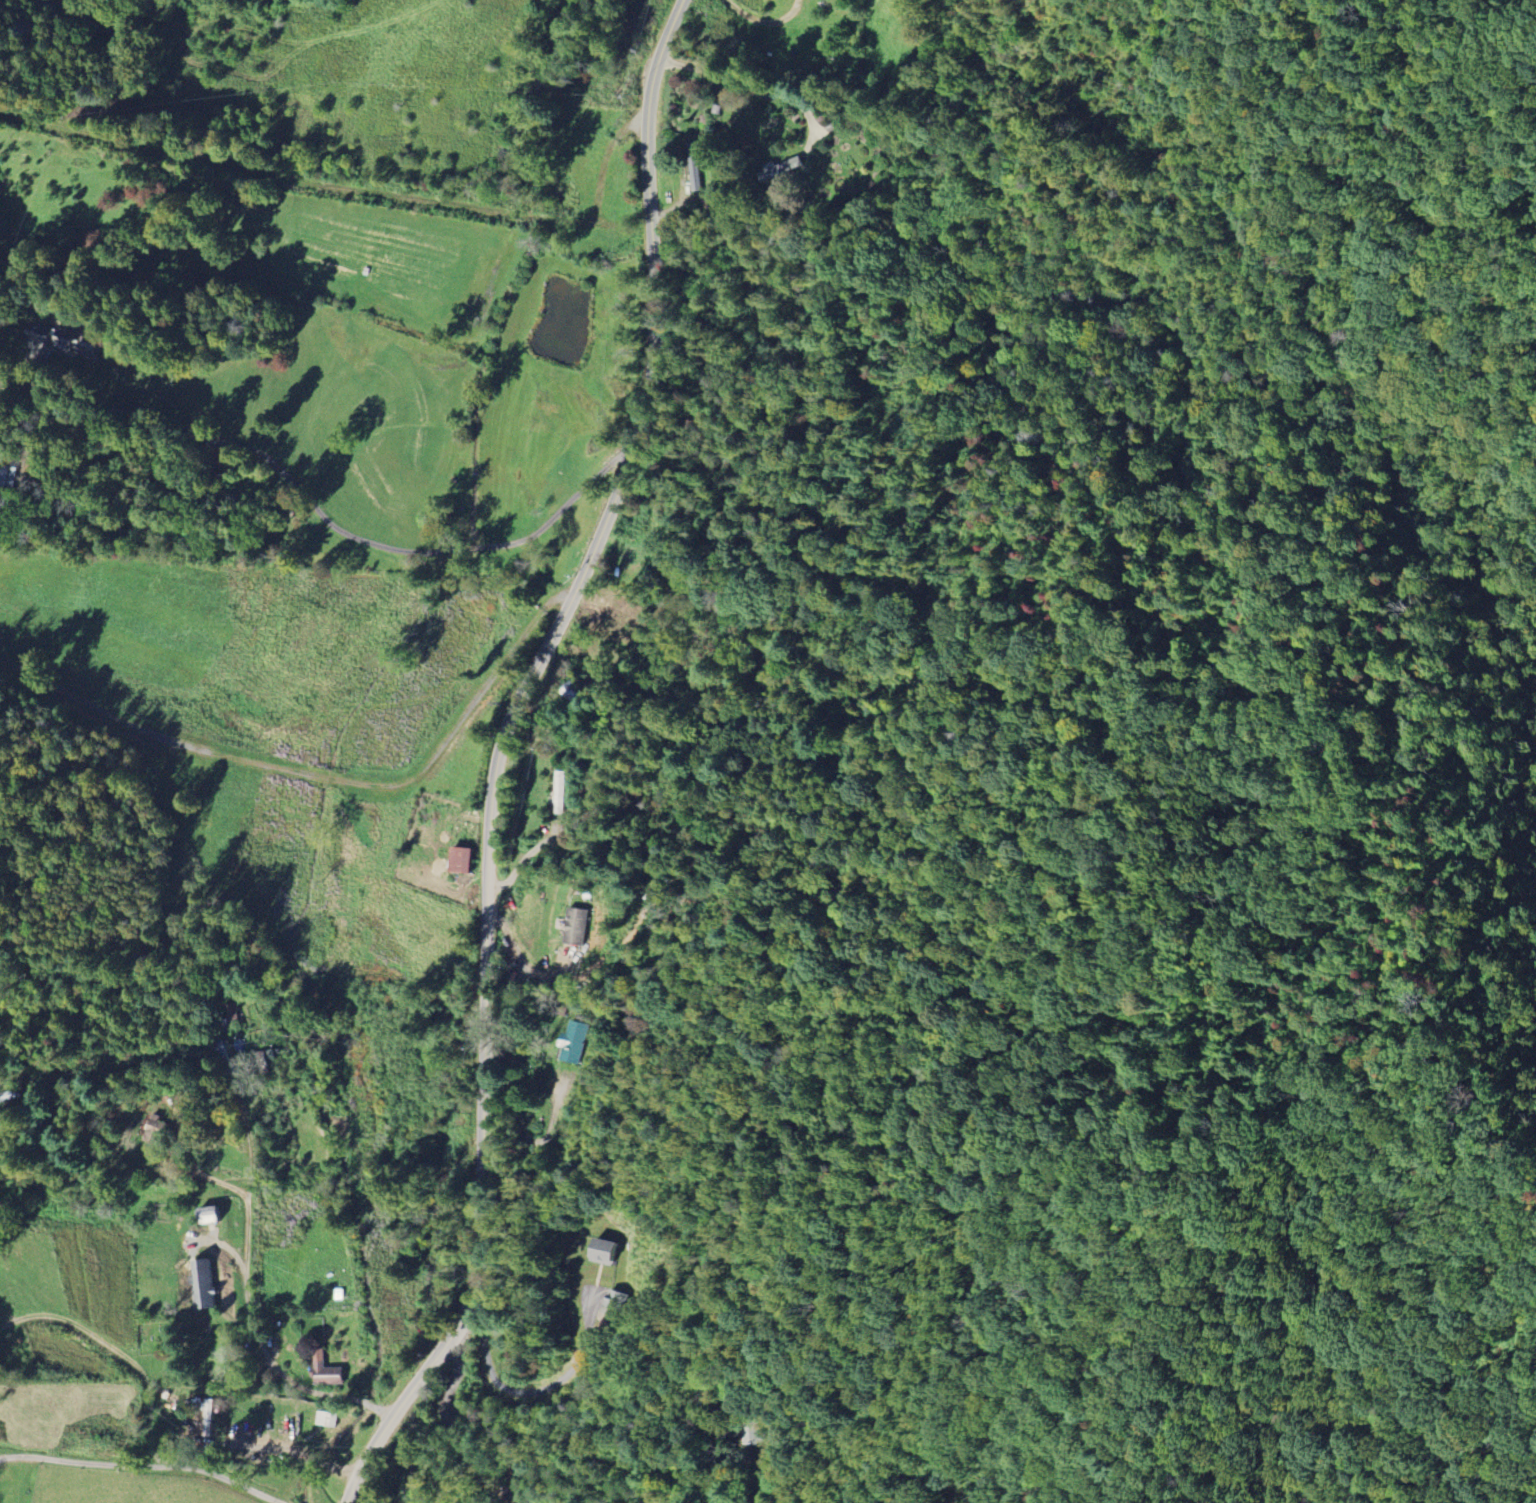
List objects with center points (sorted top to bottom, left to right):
road: (747, 83)
building: (778, 172)
building: (62, 339)
road: (321, 514)
road: (502, 752)
building: (467, 860)
building: (576, 926)
building: (230, 1012)
building: (570, 1042)
building: (216, 1215)
building: (603, 1252)
building: (207, 1284)
road: (245, 1289)
park: (153, 1337)
building: (327, 1372)
road: (148, 1415)
building: (208, 1418)
building: (328, 1419)
road: (458, 1434)
road: (287, 1452)
road: (82, 1462)

